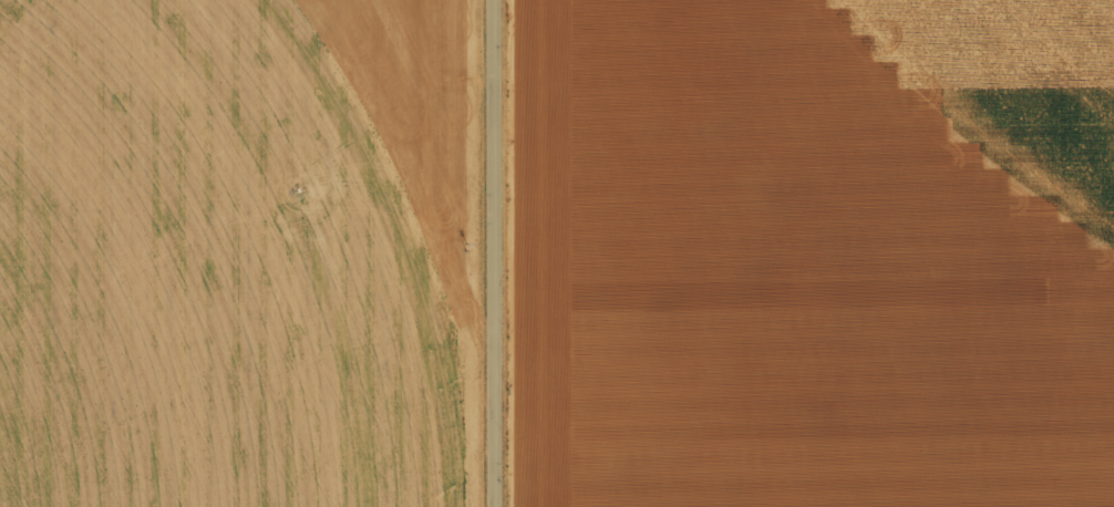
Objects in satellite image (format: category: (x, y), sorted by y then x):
road: (489, 253)

